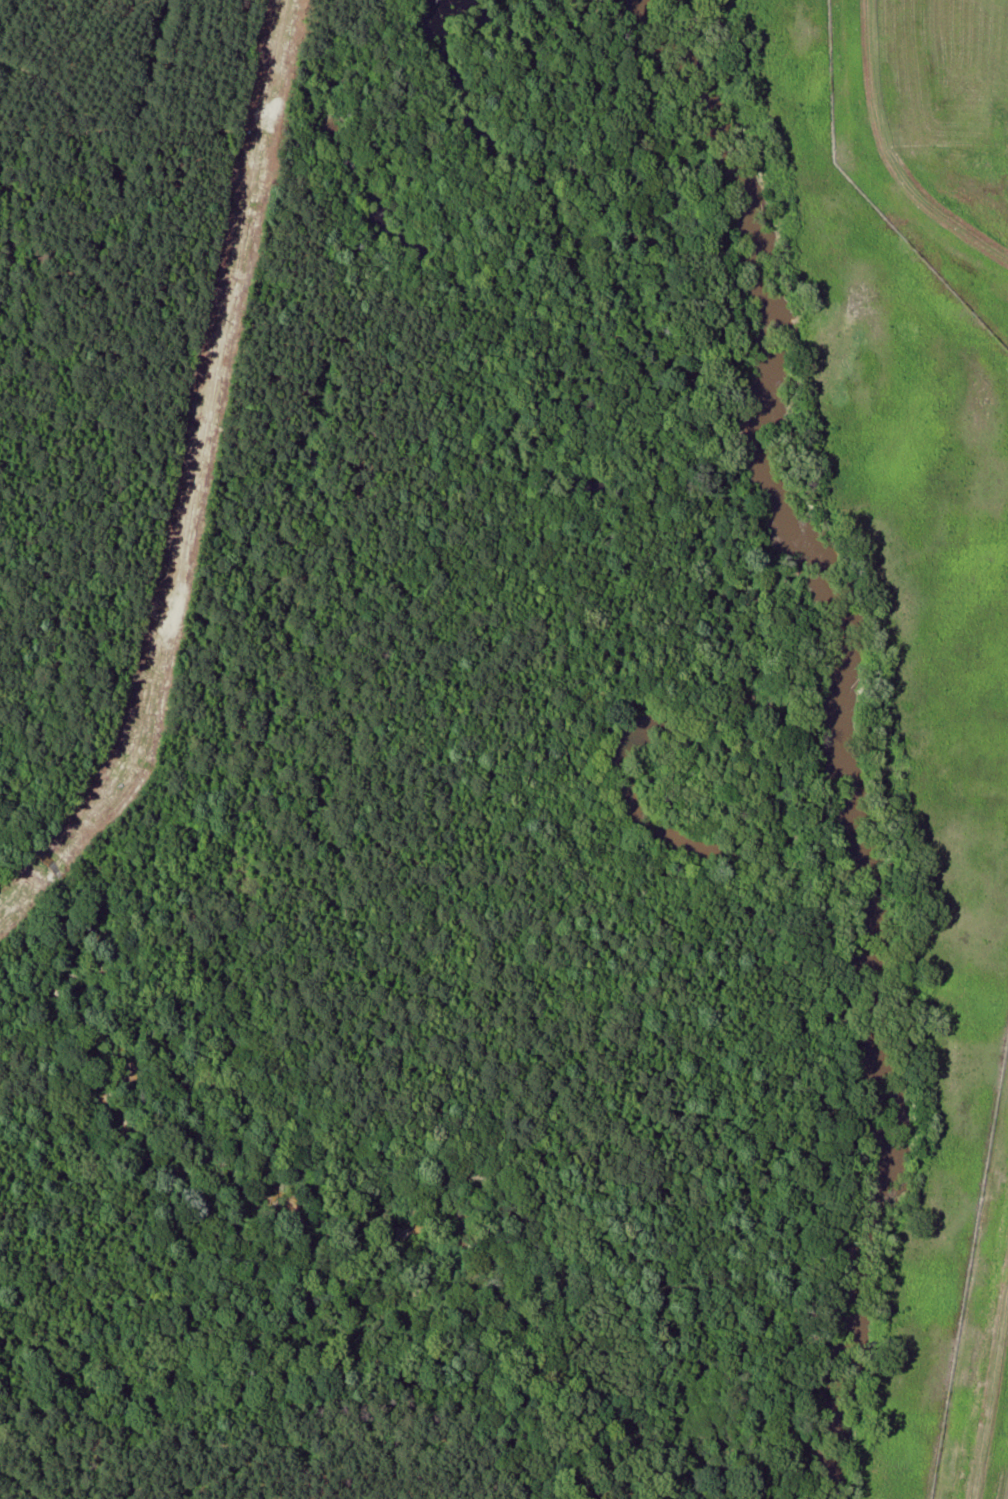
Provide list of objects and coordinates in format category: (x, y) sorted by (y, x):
airport: (936, 104)
river: (829, 736)
airport: (983, 1355)

